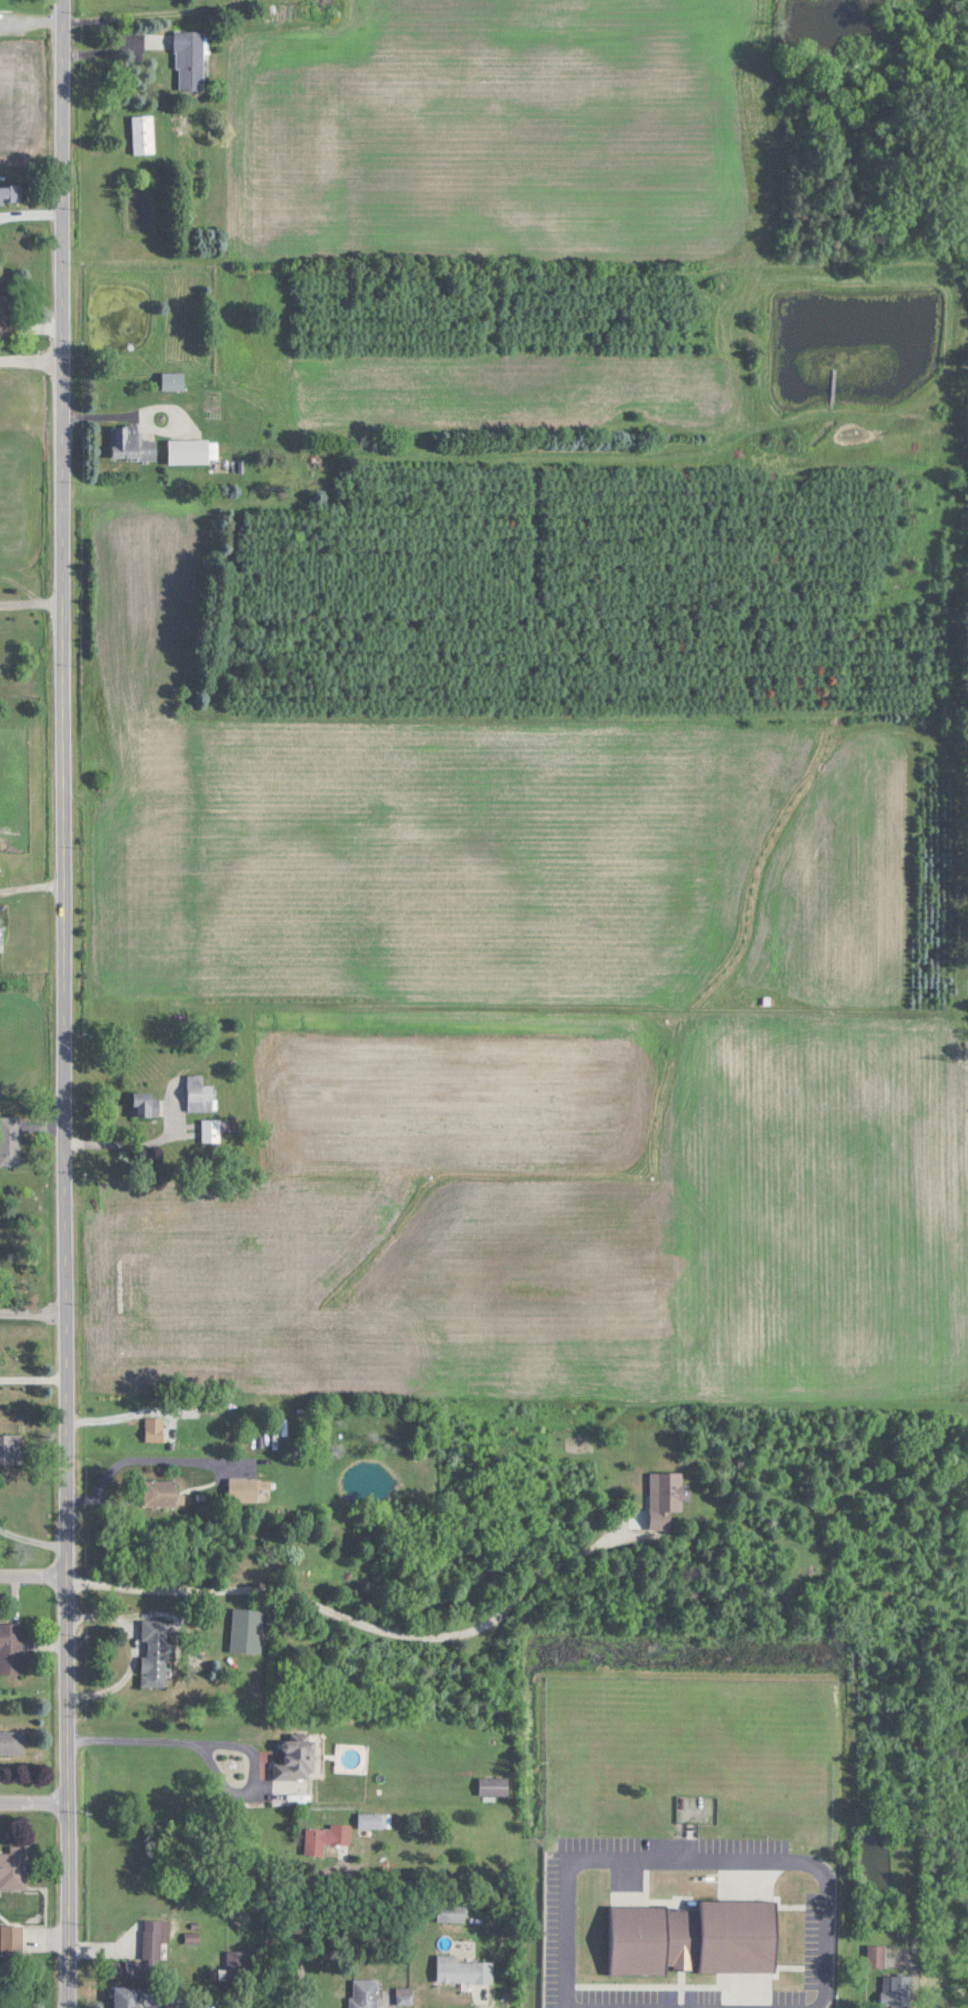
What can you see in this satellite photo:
building: (190, 60)
building: (144, 134)
building: (11, 194)
building: (7, 319)
road: (32, 357)
building: (174, 381)
building: (132, 444)
building: (194, 451)
road: (33, 601)
building: (2, 938)
road: (67, 1004)
building: (201, 1094)
building: (144, 1103)
building: (212, 1130)
building: (10, 1140)
road: (141, 1141)
road: (34, 1308)
building: (154, 1428)
building: (10, 1448)
road: (145, 1457)
building: (243, 1489)
building: (161, 1492)
building: (664, 1499)
road: (33, 1537)
road: (34, 1571)
road: (362, 1624)
building: (11, 1647)
building: (155, 1651)
road: (221, 1741)
building: (12, 1742)
building: (302, 1757)
building: (494, 1786)
road: (35, 1798)
building: (375, 1820)
building: (327, 1838)
road: (692, 1856)
building: (14, 1868)
building: (454, 1913)
road: (299, 1927)
building: (695, 1938)
building: (12, 1939)
building: (156, 1939)
building: (877, 1956)
building: (240, 1965)
building: (132, 1968)
building: (464, 1971)
building: (899, 1990)
building: (366, 1993)
building: (135, 1996)

